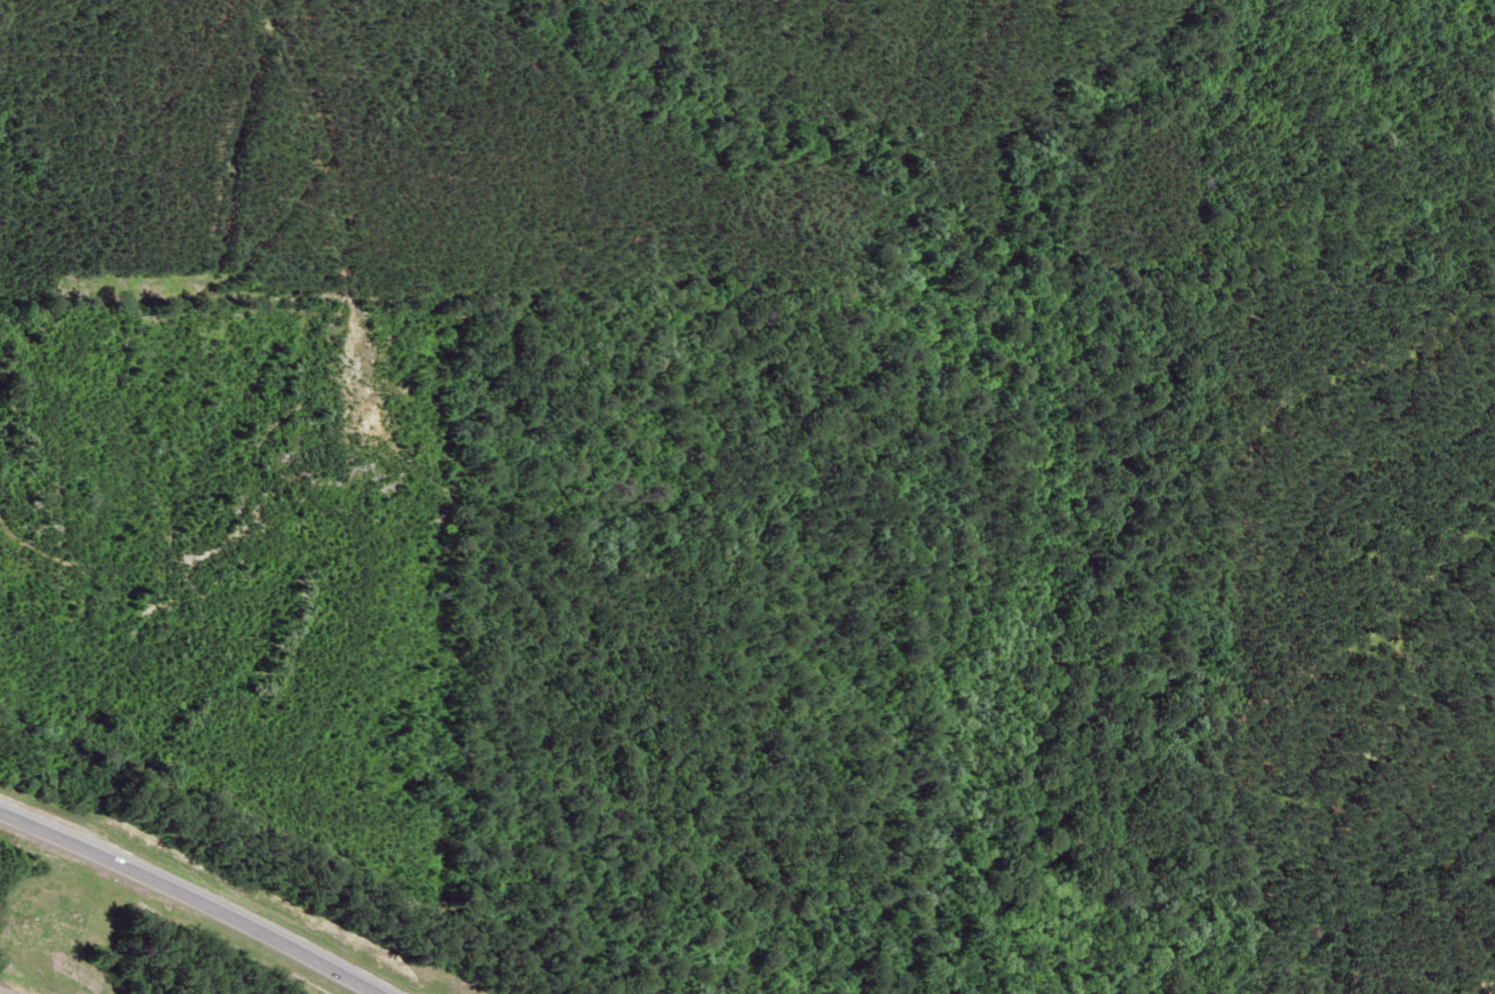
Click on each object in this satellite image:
road: (188, 900)

